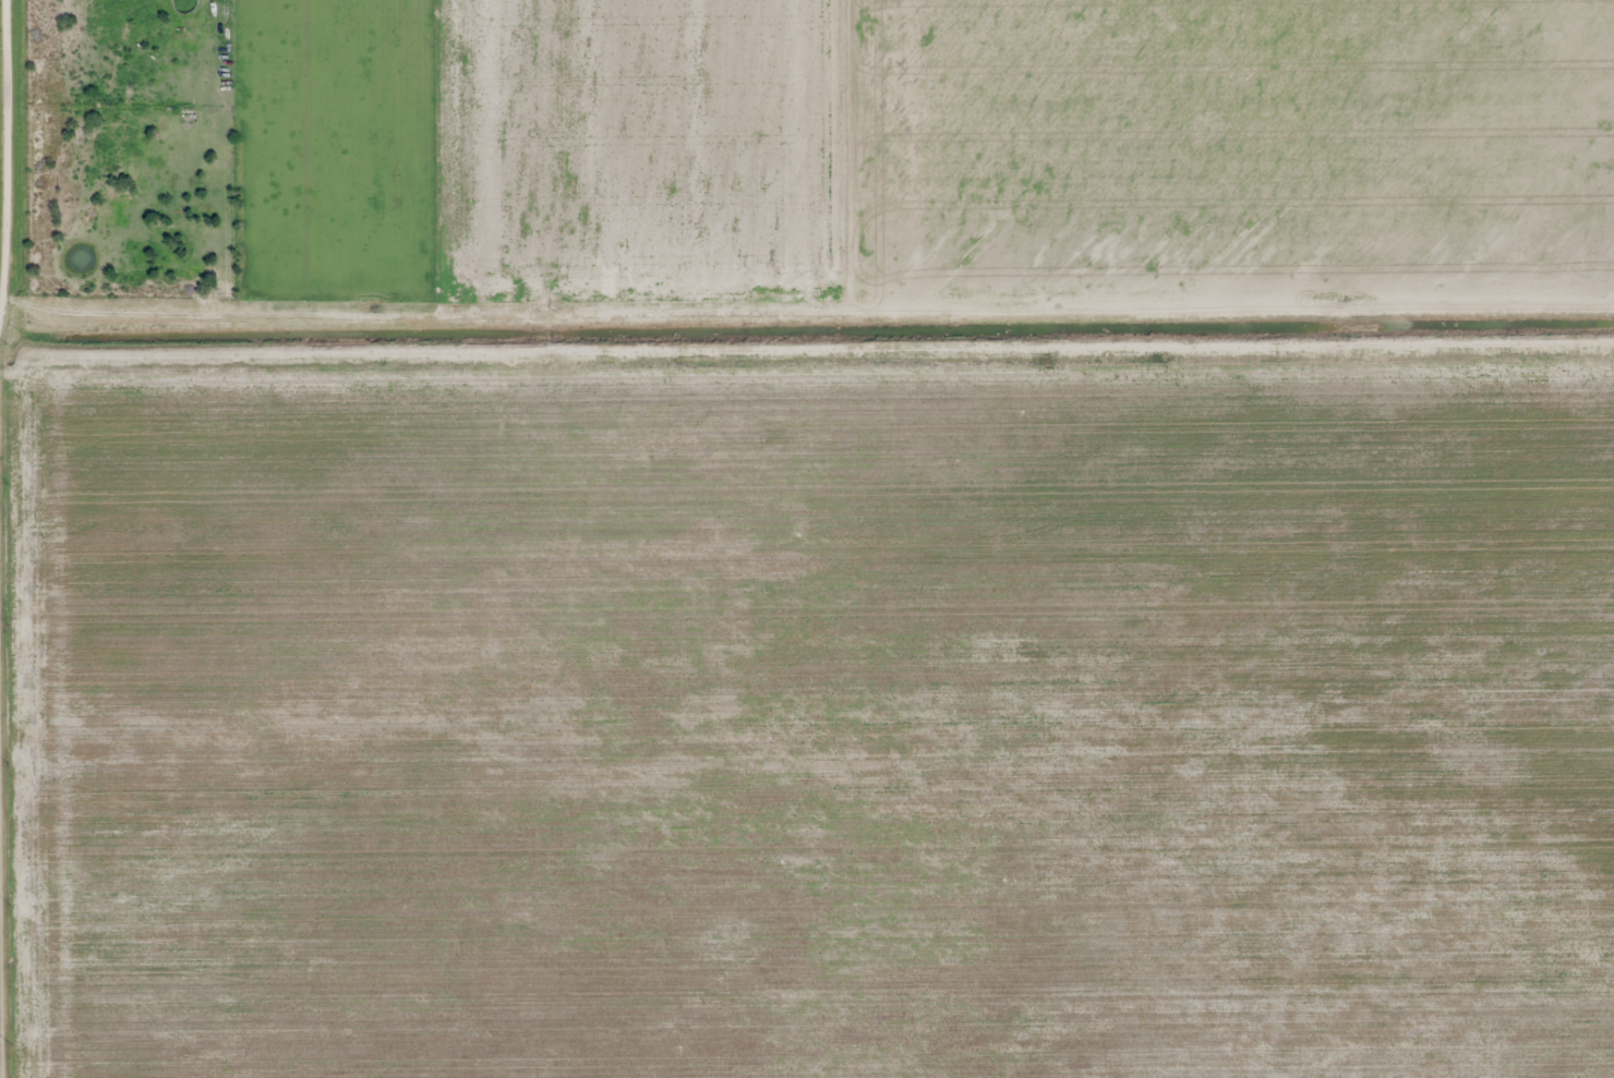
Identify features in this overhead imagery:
road: (807, 313)

